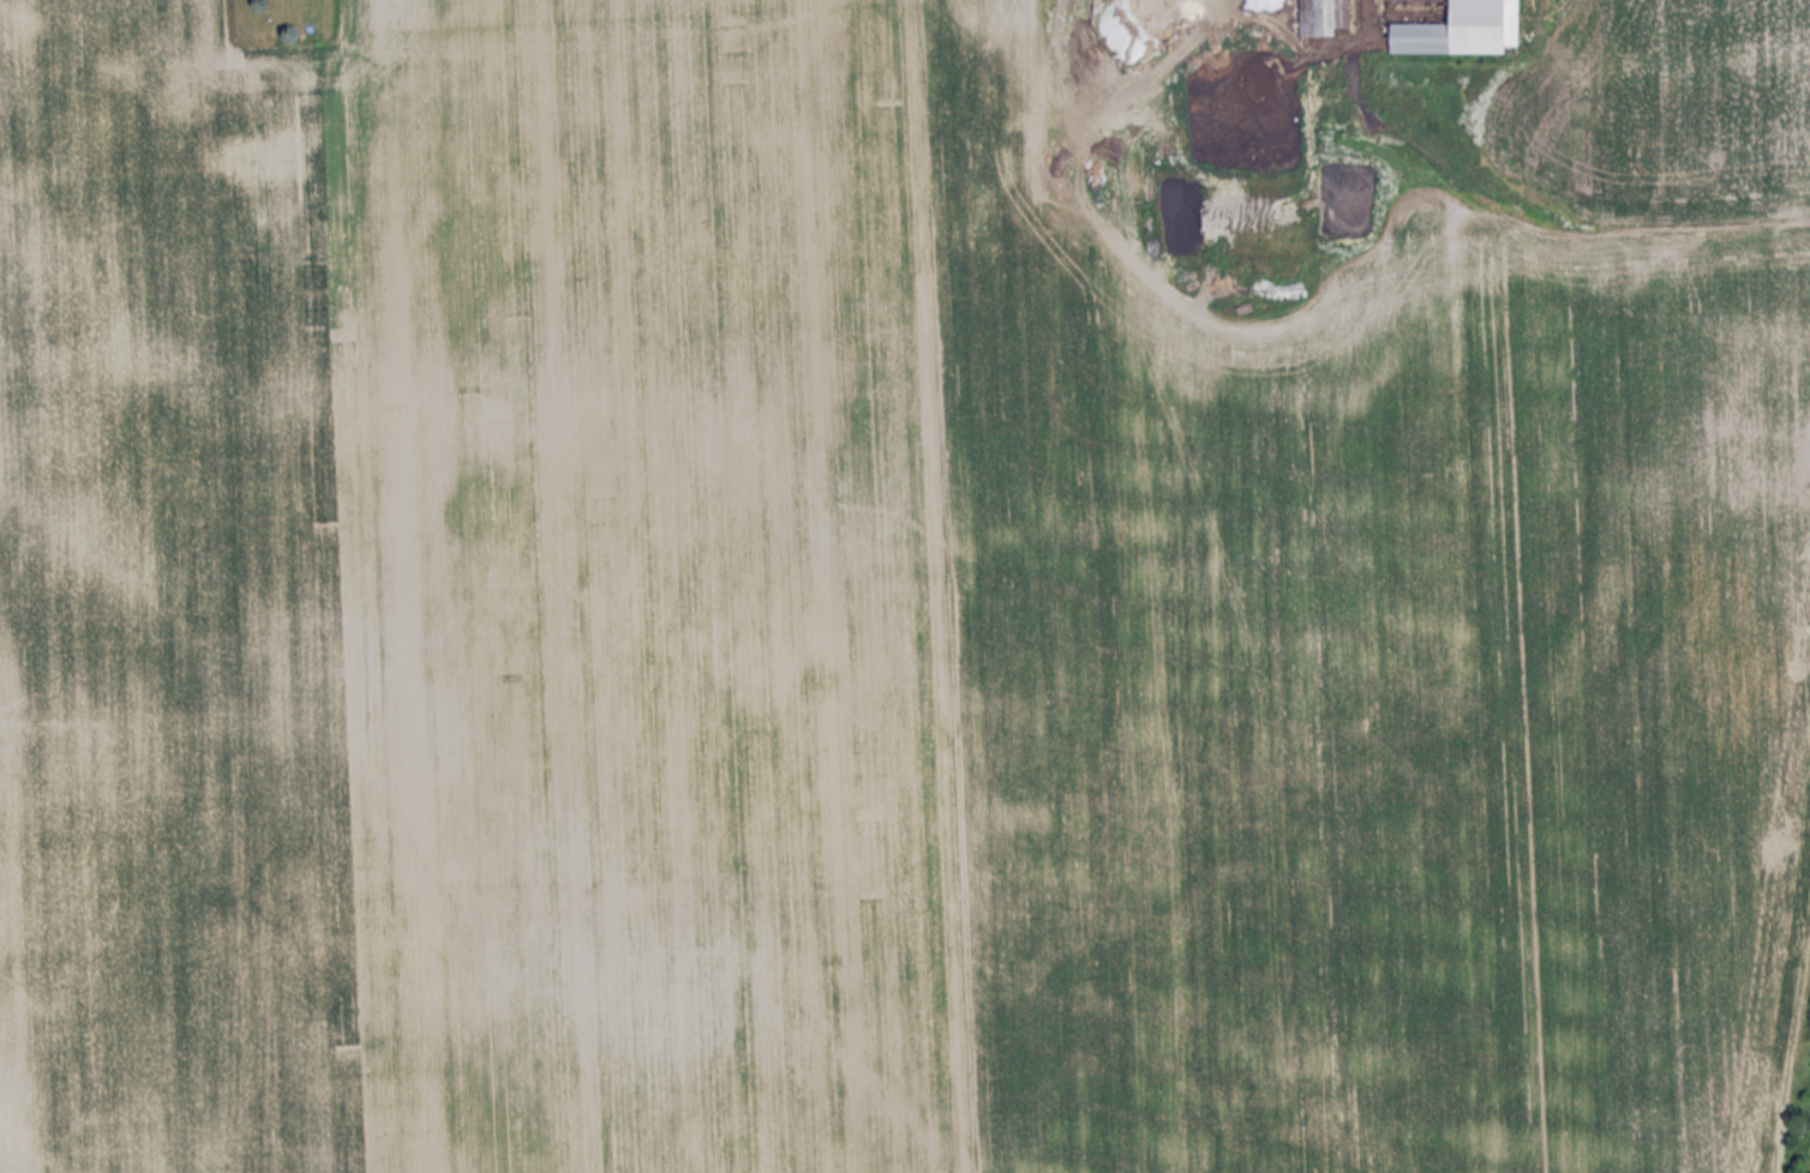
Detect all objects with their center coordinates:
building: (1319, 17)
building: (1415, 38)

